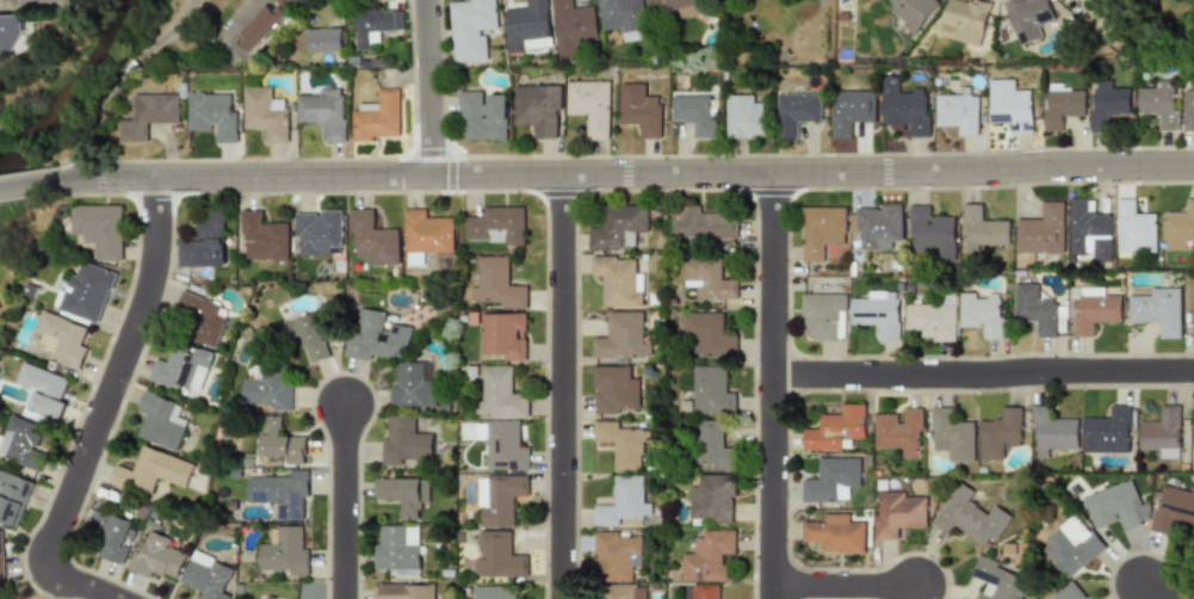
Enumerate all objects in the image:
building: (676, 6)
road: (245, 8)
building: (912, 12)
building: (624, 18)
building: (1028, 18)
building: (965, 20)
building: (264, 21)
building: (527, 25)
building: (376, 26)
building: (573, 27)
building: (472, 29)
building: (10, 38)
building: (323, 39)
road: (116, 82)
road: (432, 88)
river: (79, 92)
building: (1107, 101)
building: (1009, 104)
building: (1159, 104)
building: (1062, 105)
building: (589, 106)
building: (904, 106)
building: (537, 109)
building: (639, 110)
building: (1188, 110)
building: (323, 111)
building: (849, 111)
building: (796, 112)
building: (958, 112)
building: (265, 113)
building: (212, 115)
building: (694, 115)
building: (147, 116)
building: (483, 116)
building: (743, 117)
building: (377, 118)
road: (632, 177)
road: (35, 186)
building: (701, 224)
building: (495, 226)
building: (877, 226)
building: (618, 227)
building: (1177, 228)
building: (99, 229)
building: (983, 229)
building: (1136, 229)
building: (821, 230)
building: (1043, 230)
building: (1089, 230)
building: (930, 233)
building: (318, 234)
building: (264, 236)
building: (425, 236)
building: (372, 240)
building: (204, 243)
building: (706, 278)
building: (617, 280)
building: (495, 283)
building: (86, 292)
building: (1034, 309)
building: (1095, 311)
building: (1157, 311)
building: (877, 314)
building: (982, 314)
building: (1192, 314)
building: (823, 316)
building: (200, 319)
building: (930, 321)
building: (503, 334)
building: (707, 334)
building: (620, 336)
building: (307, 338)
building: (61, 340)
building: (391, 358)
building: (181, 368)
road: (984, 373)
road: (117, 376)
building: (267, 385)
road: (774, 387)
road: (564, 388)
building: (612, 390)
building: (41, 391)
building: (710, 391)
building: (500, 394)
building: (160, 420)
building: (835, 430)
building: (1051, 431)
building: (1108, 431)
building: (901, 432)
building: (1000, 432)
building: (1193, 433)
building: (952, 434)
building: (1162, 434)
building: (404, 440)
building: (619, 441)
building: (21, 443)
building: (278, 444)
building: (501, 445)
building: (712, 447)
building: (150, 470)
building: (831, 480)
building: (279, 493)
building: (402, 493)
building: (13, 498)
building: (500, 498)
building: (711, 500)
building: (619, 501)
road: (346, 504)
building: (1116, 506)
building: (1171, 508)
building: (897, 512)
building: (969, 517)
building: (111, 535)
building: (835, 535)
building: (1072, 545)
building: (1192, 548)
building: (397, 549)
building: (285, 551)
building: (1, 554)
building: (614, 554)
building: (497, 555)
building: (707, 555)
building: (155, 556)
building: (206, 575)
building: (996, 580)
road: (79, 583)
road: (846, 587)
building: (402, 591)
building: (494, 592)
building: (621, 592)
building: (706, 592)
road: (1157, 592)
building: (1068, 593)
building: (262, 598)

